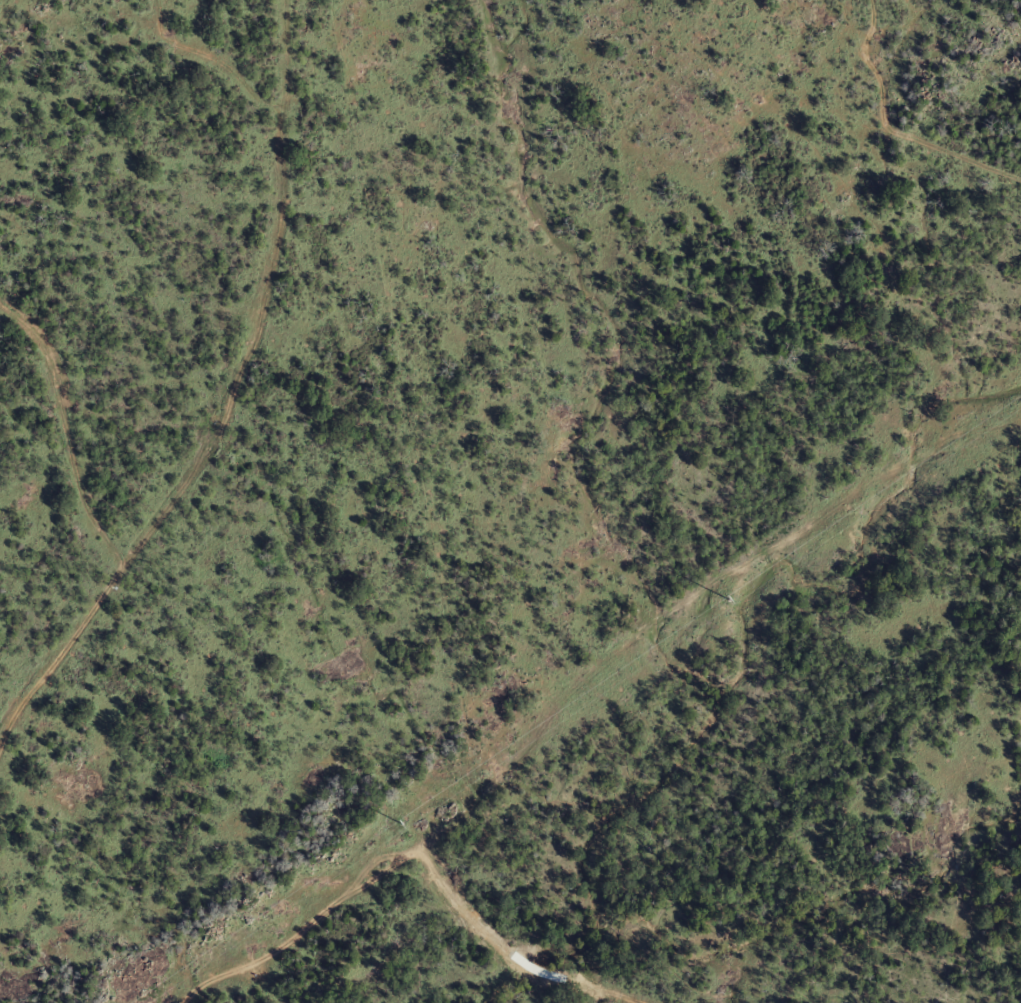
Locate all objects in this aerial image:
road: (892, 132)
road: (246, 418)
power tower: (728, 598)
power tower: (401, 822)
road: (416, 860)

